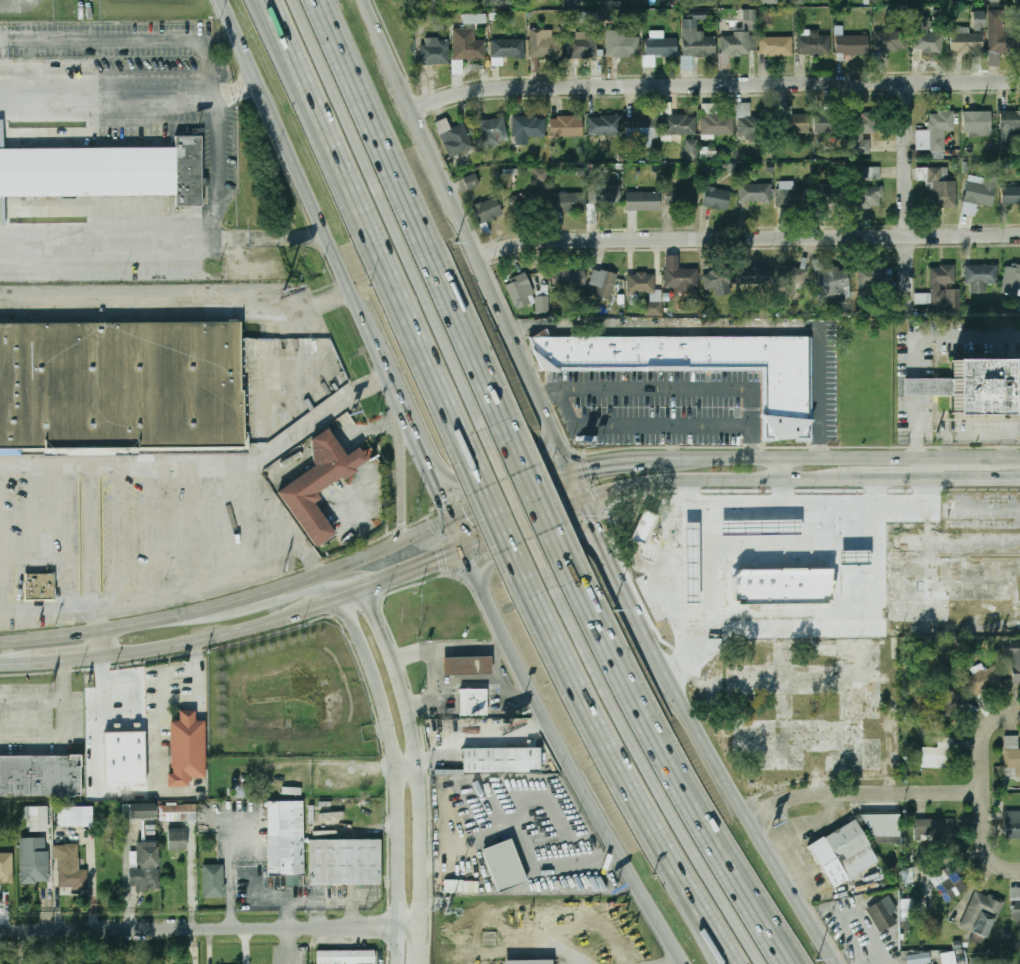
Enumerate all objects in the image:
building: (766, 2)
road: (15, 4)
building: (765, 17)
building: (474, 18)
building: (595, 18)
building: (749, 18)
building: (1001, 35)
building: (926, 37)
building: (697, 40)
building: (891, 41)
building: (967, 42)
building: (622, 43)
building: (737, 44)
building: (814, 44)
road: (388, 45)
building: (545, 45)
building: (583, 45)
building: (776, 45)
building: (852, 45)
building: (468, 46)
building: (661, 47)
building: (509, 48)
building: (435, 52)
building: (687, 63)
road: (716, 85)
road: (109, 100)
building: (790, 120)
building: (1010, 120)
building: (717, 123)
building: (749, 123)
building: (827, 123)
building: (978, 123)
building: (679, 125)
building: (526, 126)
building: (605, 126)
building: (566, 127)
building: (491, 131)
building: (937, 131)
building: (642, 132)
building: (862, 132)
building: (454, 138)
building: (691, 149)
building: (105, 171)
building: (868, 172)
building: (541, 175)
building: (471, 181)
building: (942, 188)
building: (866, 190)
building: (755, 193)
building: (980, 193)
building: (605, 194)
building: (828, 194)
building: (1011, 195)
building: (681, 197)
building: (793, 198)
road: (909, 198)
building: (717, 199)
road: (315, 201)
building: (643, 201)
road: (216, 202)
building: (567, 202)
building: (969, 208)
building: (488, 210)
road: (418, 220)
road: (393, 225)
road: (370, 228)
road: (749, 238)
road: (108, 239)
building: (981, 274)
building: (680, 276)
building: (756, 276)
road: (490, 278)
building: (569, 278)
building: (874, 279)
building: (1012, 280)
building: (719, 281)
building: (833, 281)
building: (792, 282)
building: (603, 283)
building: (641, 283)
building: (941, 287)
building: (520, 291)
building: (542, 304)
road: (178, 308)
building: (653, 308)
road: (731, 327)
road: (970, 338)
building: (705, 366)
road: (742, 371)
parking lot: (835, 380)
road: (920, 384)
building: (122, 385)
building: (929, 386)
road: (680, 388)
building: (981, 389)
parking lot: (656, 407)
road: (644, 425)
road: (970, 431)
road: (422, 442)
road: (919, 444)
road: (273, 447)
road: (807, 457)
road: (1007, 457)
road: (957, 458)
road: (634, 459)
traffic signals: (588, 465)
road: (123, 466)
road: (403, 467)
road: (509, 467)
road: (780, 468)
road: (923, 469)
building: (321, 478)
road: (706, 480)
road: (878, 480)
road: (974, 480)
road: (580, 483)
road: (512, 491)
road: (726, 491)
traffic signals: (446, 496)
road: (538, 500)
road: (929, 505)
traffic signals: (567, 507)
road: (518, 510)
traffic signals: (465, 511)
road: (452, 514)
road: (593, 517)
road: (498, 519)
traffic signals: (595, 522)
road: (526, 523)
road: (428, 527)
building: (641, 527)
building: (758, 528)
gas station: (758, 528)
road: (533, 548)
building: (853, 556)
gas station: (853, 556)
traffic signals: (437, 560)
building: (689, 561)
gas station: (689, 561)
road: (612, 564)
road: (344, 565)
road: (418, 567)
building: (41, 581)
road: (216, 583)
road: (329, 584)
building: (780, 585)
road: (407, 588)
road: (356, 592)
road: (236, 602)
road: (59, 612)
road: (292, 614)
road: (292, 627)
road: (94, 630)
road: (104, 642)
road: (174, 645)
road: (451, 651)
road: (387, 654)
road: (195, 656)
building: (1013, 658)
road: (56, 660)
building: (469, 662)
gas station: (469, 662)
road: (3, 664)
building: (983, 678)
road: (62, 680)
road: (101, 683)
road: (469, 684)
road: (198, 691)
road: (436, 691)
road: (502, 696)
building: (476, 698)
building: (944, 702)
road: (62, 718)
road: (156, 718)
road: (602, 733)
road: (985, 743)
building: (187, 744)
building: (1012, 753)
building: (936, 754)
building: (126, 755)
building: (505, 757)
road: (572, 758)
road: (672, 766)
road: (409, 769)
road: (649, 769)
building: (41, 771)
road: (398, 775)
road: (730, 780)
road: (865, 793)
building: (139, 811)
building: (178, 813)
building: (74, 816)
building: (38, 819)
road: (422, 822)
building: (1012, 824)
building: (886, 827)
building: (932, 829)
road: (520, 836)
building: (286, 838)
building: (178, 839)
road: (985, 842)
building: (845, 853)
building: (34, 860)
road: (228, 862)
building: (345, 862)
building: (504, 865)
building: (144, 867)
building: (6, 868)
building: (70, 868)
building: (214, 881)
building: (947, 883)
building: (453, 885)
road: (319, 902)
building: (1015, 902)
building: (905, 908)
building: (882, 913)
building: (980, 913)
road: (703, 924)
road: (710, 924)
road: (211, 928)
road: (422, 945)
road: (288, 946)
building: (345, 956)
building: (948, 957)
building: (918, 958)
building: (976, 960)
road: (679, 961)
building: (529, 962)
road: (882, 963)

